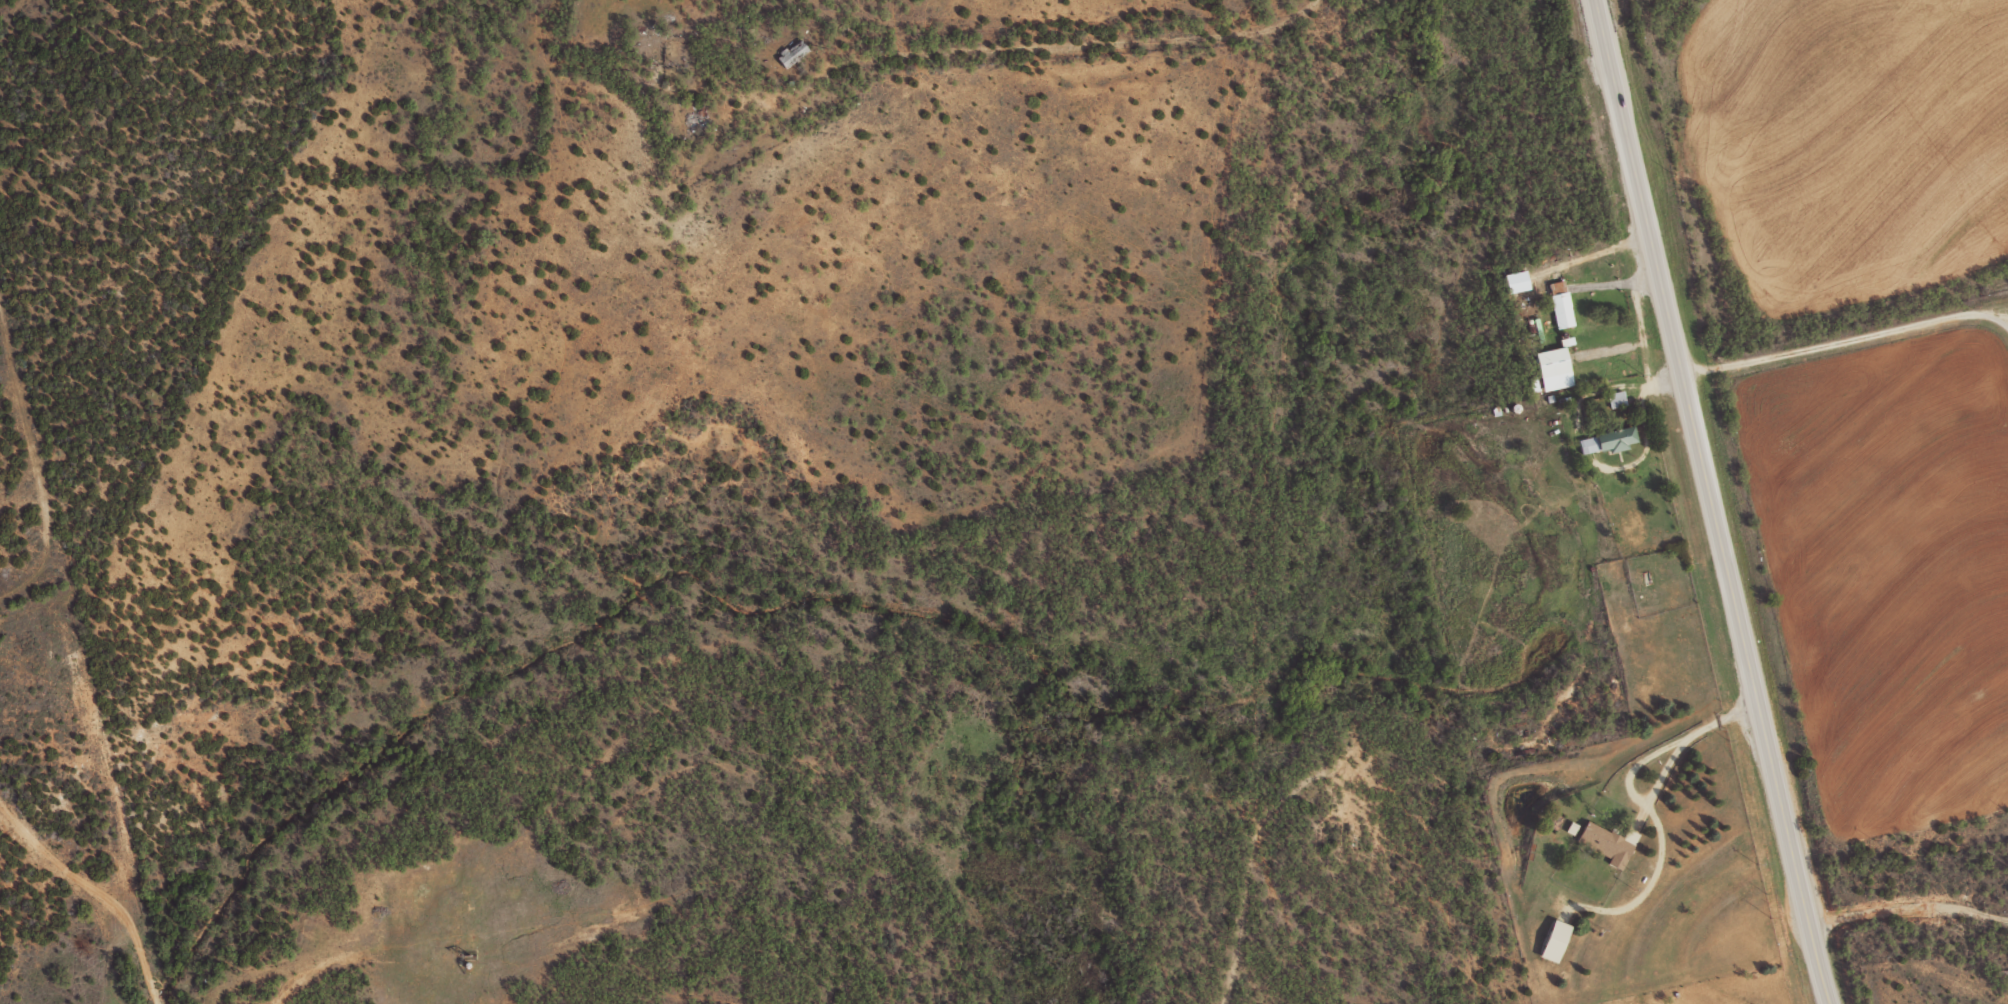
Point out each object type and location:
building: (793, 53)
building: (1516, 281)
building: (1561, 304)
building: (1554, 368)
building: (1617, 398)
building: (1609, 440)
road: (1714, 502)
road: (1663, 771)
road: (1639, 803)
building: (1608, 843)
road: (1909, 905)
building: (1556, 941)

